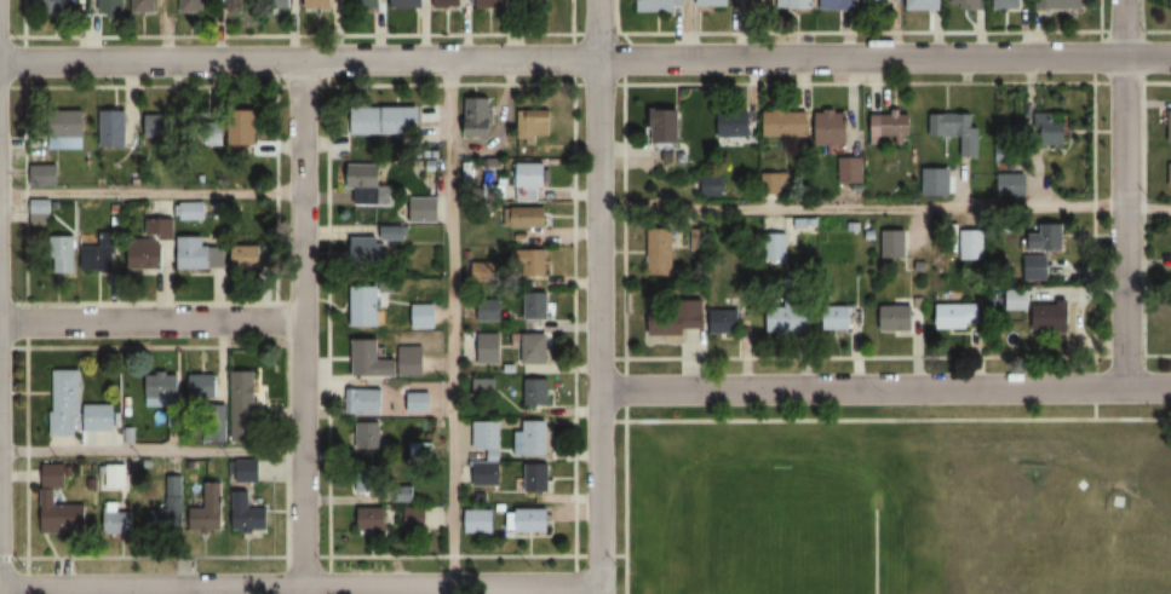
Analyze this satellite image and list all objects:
building: (1169, 1)
building: (538, 2)
building: (714, 2)
building: (878, 2)
building: (279, 4)
building: (318, 4)
building: (364, 4)
building: (408, 4)
building: (448, 4)
building: (490, 4)
building: (797, 4)
building: (964, 4)
building: (1008, 4)
building: (1060, 4)
building: (656, 5)
building: (756, 5)
building: (839, 5)
building: (925, 5)
building: (51, 6)
building: (190, 6)
building: (236, 6)
building: (143, 7)
building: (111, 8)
road: (561, 57)
road: (1147, 57)
building: (480, 117)
building: (389, 120)
building: (733, 123)
building: (786, 123)
building: (535, 125)
building: (668, 126)
building: (890, 126)
building: (1170, 126)
building: (159, 127)
building: (833, 127)
building: (243, 128)
building: (71, 129)
building: (114, 129)
building: (1051, 129)
building: (955, 131)
building: (851, 169)
building: (1170, 174)
building: (533, 181)
building: (771, 181)
building: (368, 185)
building: (712, 185)
road: (1123, 192)
road: (149, 194)
road: (883, 207)
building: (423, 209)
building: (191, 211)
building: (39, 212)
building: (528, 218)
building: (781, 236)
building: (1044, 240)
building: (374, 243)
building: (892, 243)
building: (153, 244)
building: (969, 244)
building: (662, 252)
building: (63, 253)
building: (200, 253)
building: (101, 254)
building: (247, 256)
building: (528, 261)
building: (1038, 266)
building: (482, 271)
road: (596, 296)
building: (1017, 299)
building: (364, 305)
building: (536, 305)
building: (488, 310)
building: (423, 315)
building: (957, 316)
building: (1052, 316)
building: (791, 317)
building: (839, 317)
building: (896, 317)
road: (149, 319)
building: (672, 324)
road: (298, 325)
road: (450, 325)
building: (487, 347)
building: (535, 347)
building: (385, 359)
building: (203, 386)
building: (483, 386)
road: (1148, 387)
road: (860, 388)
building: (161, 390)
building: (536, 391)
building: (67, 400)
building: (362, 400)
road: (1095, 402)
building: (421, 403)
building: (243, 405)
building: (99, 416)
road: (872, 420)
building: (368, 434)
building: (487, 436)
building: (532, 442)
building: (420, 449)
road: (149, 450)
road: (24, 457)
building: (243, 471)
building: (114, 474)
building: (538, 477)
road: (574, 477)
road: (626, 477)
building: (366, 478)
building: (47, 496)
building: (168, 509)
building: (209, 509)
building: (248, 514)
building: (415, 518)
building: (373, 519)
building: (534, 519)
building: (477, 520)
building: (119, 523)
park: (785, 530)
road: (312, 555)
road: (331, 575)
road: (298, 587)

